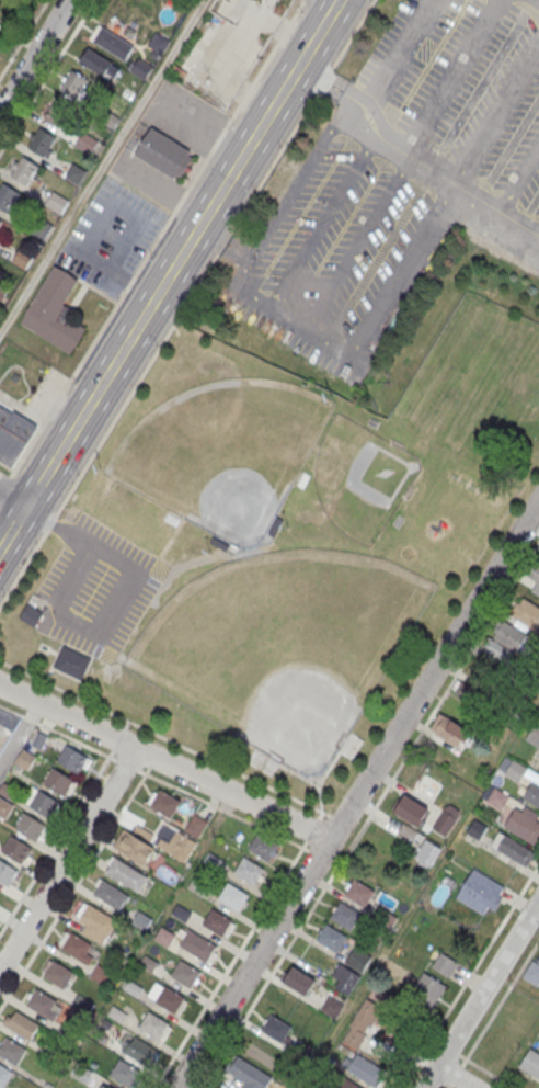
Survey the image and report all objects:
road: (534, 0)
road: (331, 1)
road: (22, 36)
building: (112, 43)
building: (158, 43)
road: (35, 57)
building: (100, 65)
building: (141, 68)
road: (46, 75)
building: (74, 84)
building: (58, 114)
road: (402, 135)
building: (43, 143)
building: (164, 152)
road: (102, 166)
building: (25, 171)
building: (74, 173)
road: (301, 173)
building: (7, 199)
building: (56, 203)
building: (0, 222)
building: (42, 229)
road: (157, 238)
parking lot: (110, 239)
road: (223, 246)
road: (181, 252)
building: (23, 258)
parking lot: (324, 260)
building: (3, 290)
road: (98, 291)
road: (78, 294)
road: (186, 302)
building: (56, 310)
road: (368, 330)
building: (18, 422)
building: (10, 444)
park: (223, 454)
road: (7, 464)
park: (363, 479)
road: (4, 485)
road: (12, 497)
road: (12, 525)
park: (290, 526)
building: (535, 578)
parking lot: (92, 591)
road: (119, 602)
building: (528, 614)
building: (32, 616)
building: (508, 638)
park: (284, 646)
building: (72, 664)
building: (465, 690)
road: (11, 710)
road: (28, 718)
building: (451, 730)
building: (534, 735)
road: (20, 736)
road: (170, 740)
road: (114, 745)
building: (73, 759)
road: (151, 762)
road: (163, 762)
building: (516, 771)
building: (58, 782)
road: (171, 785)
road: (357, 793)
building: (532, 794)
building: (496, 797)
building: (164, 803)
building: (45, 804)
building: (4, 808)
building: (412, 812)
road: (320, 814)
road: (369, 814)
building: (446, 819)
building: (196, 825)
building: (524, 825)
building: (30, 827)
road: (311, 828)
building: (477, 829)
road: (56, 841)
building: (156, 845)
building: (264, 847)
building: (16, 850)
building: (514, 850)
road: (313, 851)
building: (427, 852)
road: (67, 859)
building: (250, 871)
building: (7, 873)
building: (126, 875)
road: (73, 886)
building: (481, 892)
building: (359, 894)
building: (110, 895)
building: (233, 897)
building: (345, 916)
building: (94, 919)
building: (218, 923)
building: (165, 937)
building: (332, 939)
building: (77, 947)
building: (198, 947)
road: (229, 963)
building: (445, 964)
building: (351, 970)
building: (101, 974)
building: (59, 975)
building: (185, 975)
road: (469, 975)
building: (298, 982)
building: (428, 987)
road: (481, 994)
building: (170, 1000)
road: (500, 1002)
building: (42, 1004)
road: (355, 1004)
building: (332, 1006)
building: (363, 1024)
building: (21, 1025)
building: (153, 1025)
building: (276, 1030)
building: (139, 1050)
road: (452, 1051)
building: (12, 1052)
building: (531, 1064)
building: (366, 1070)
road: (485, 1070)
building: (125, 1074)
building: (249, 1074)
road: (455, 1075)
building: (4, 1076)
road: (452, 1077)
building: (346, 1085)
road: (432, 1085)
building: (107, 1086)
road: (447, 1086)

